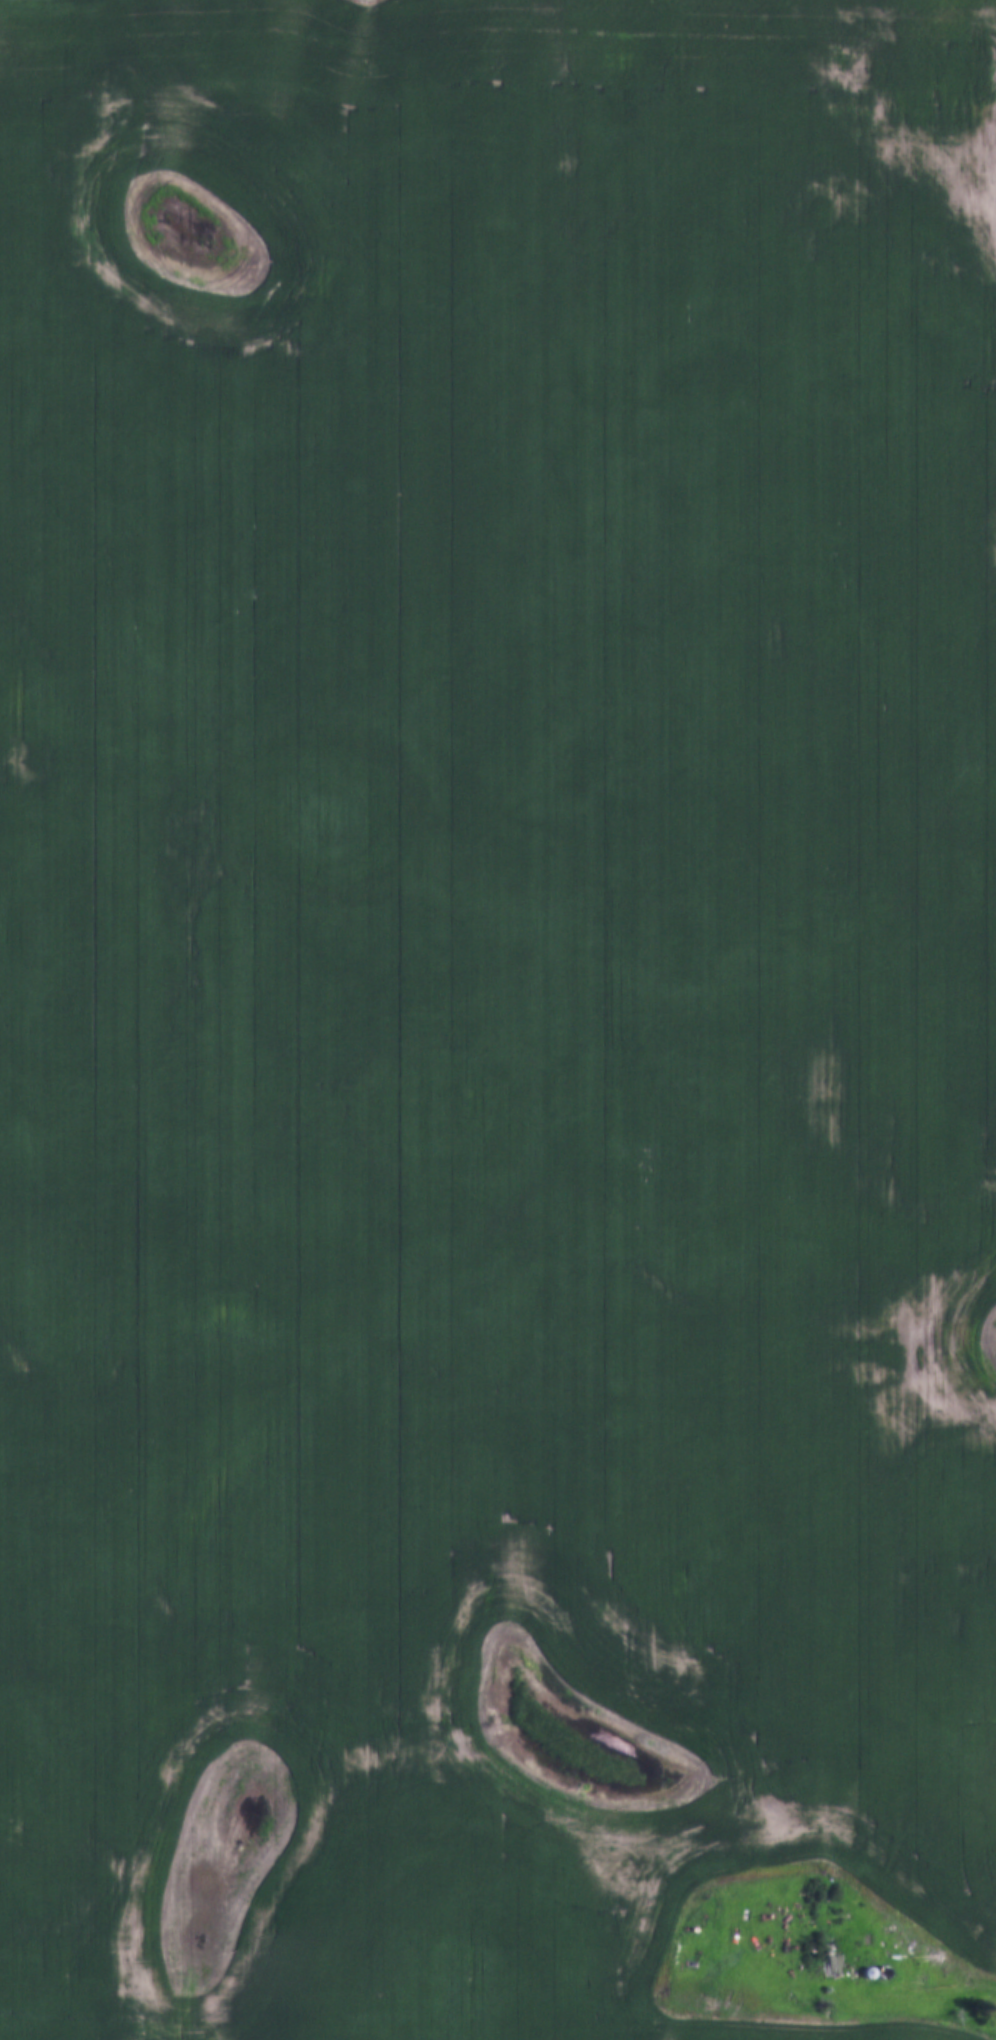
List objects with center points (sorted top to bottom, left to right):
road: (859, 1984)

